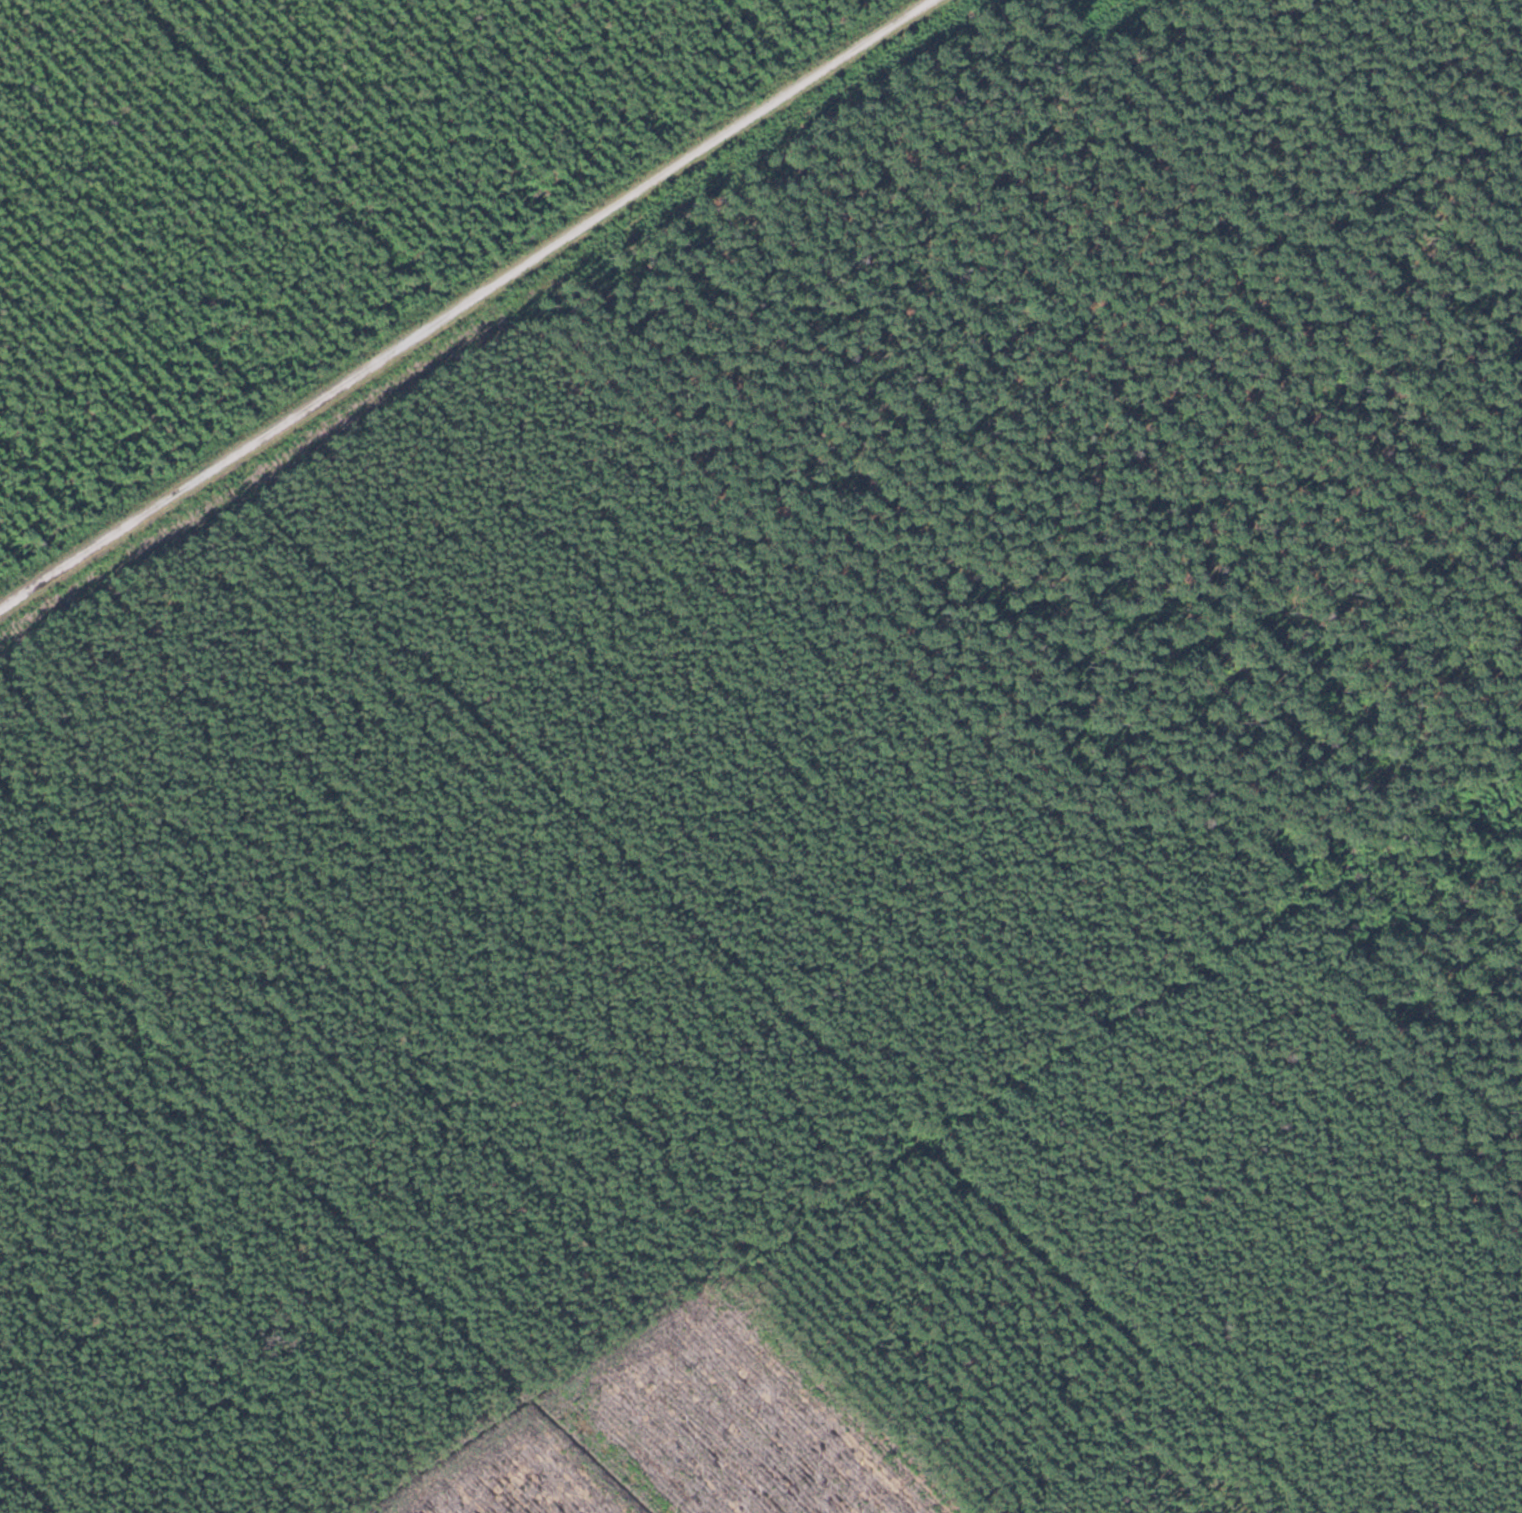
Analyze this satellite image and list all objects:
road: (466, 300)

